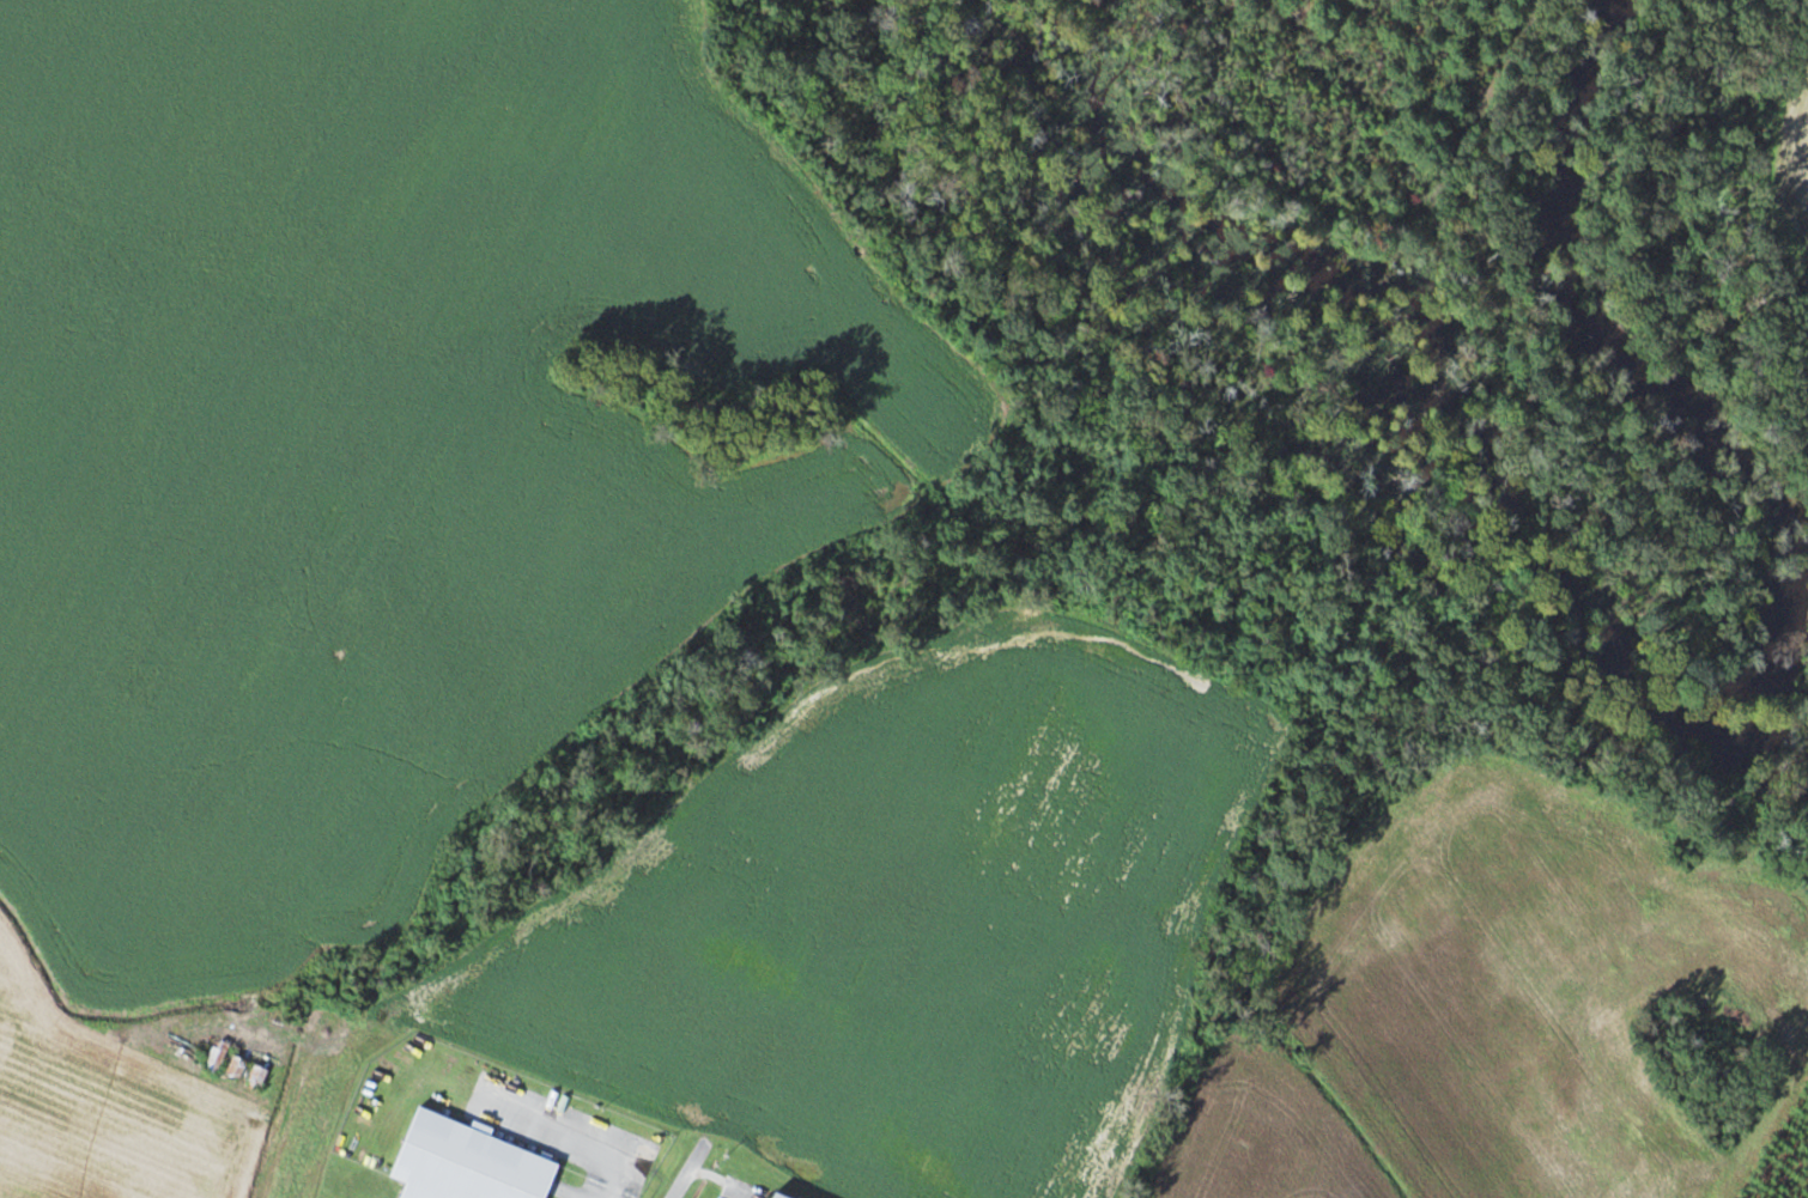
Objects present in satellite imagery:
river: (1675, 407)
building: (218, 1056)
building: (238, 1065)
building: (260, 1074)
building: (466, 1163)
road: (693, 1169)
building: (772, 1197)

